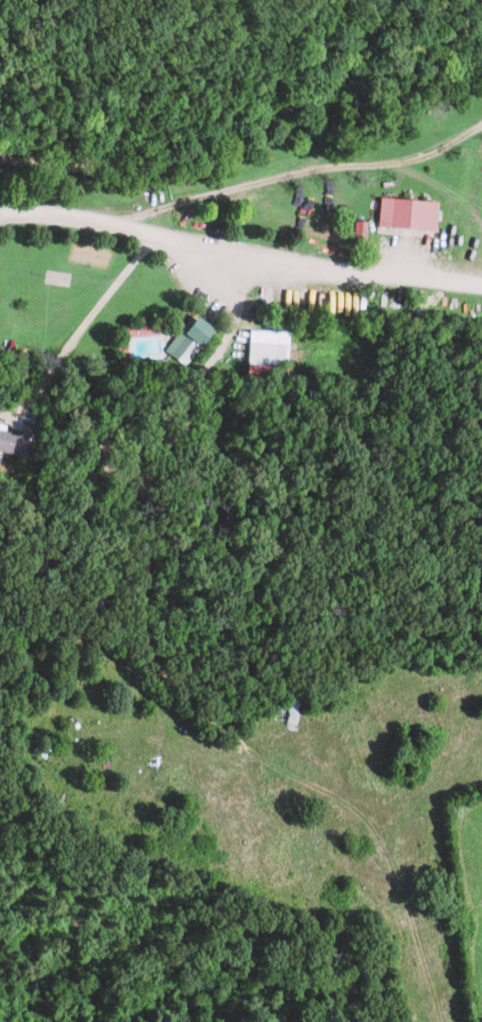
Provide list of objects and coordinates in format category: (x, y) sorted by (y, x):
road: (295, 173)
building: (417, 214)
road: (240, 252)
building: (210, 332)
building: (277, 371)
building: (20, 441)

